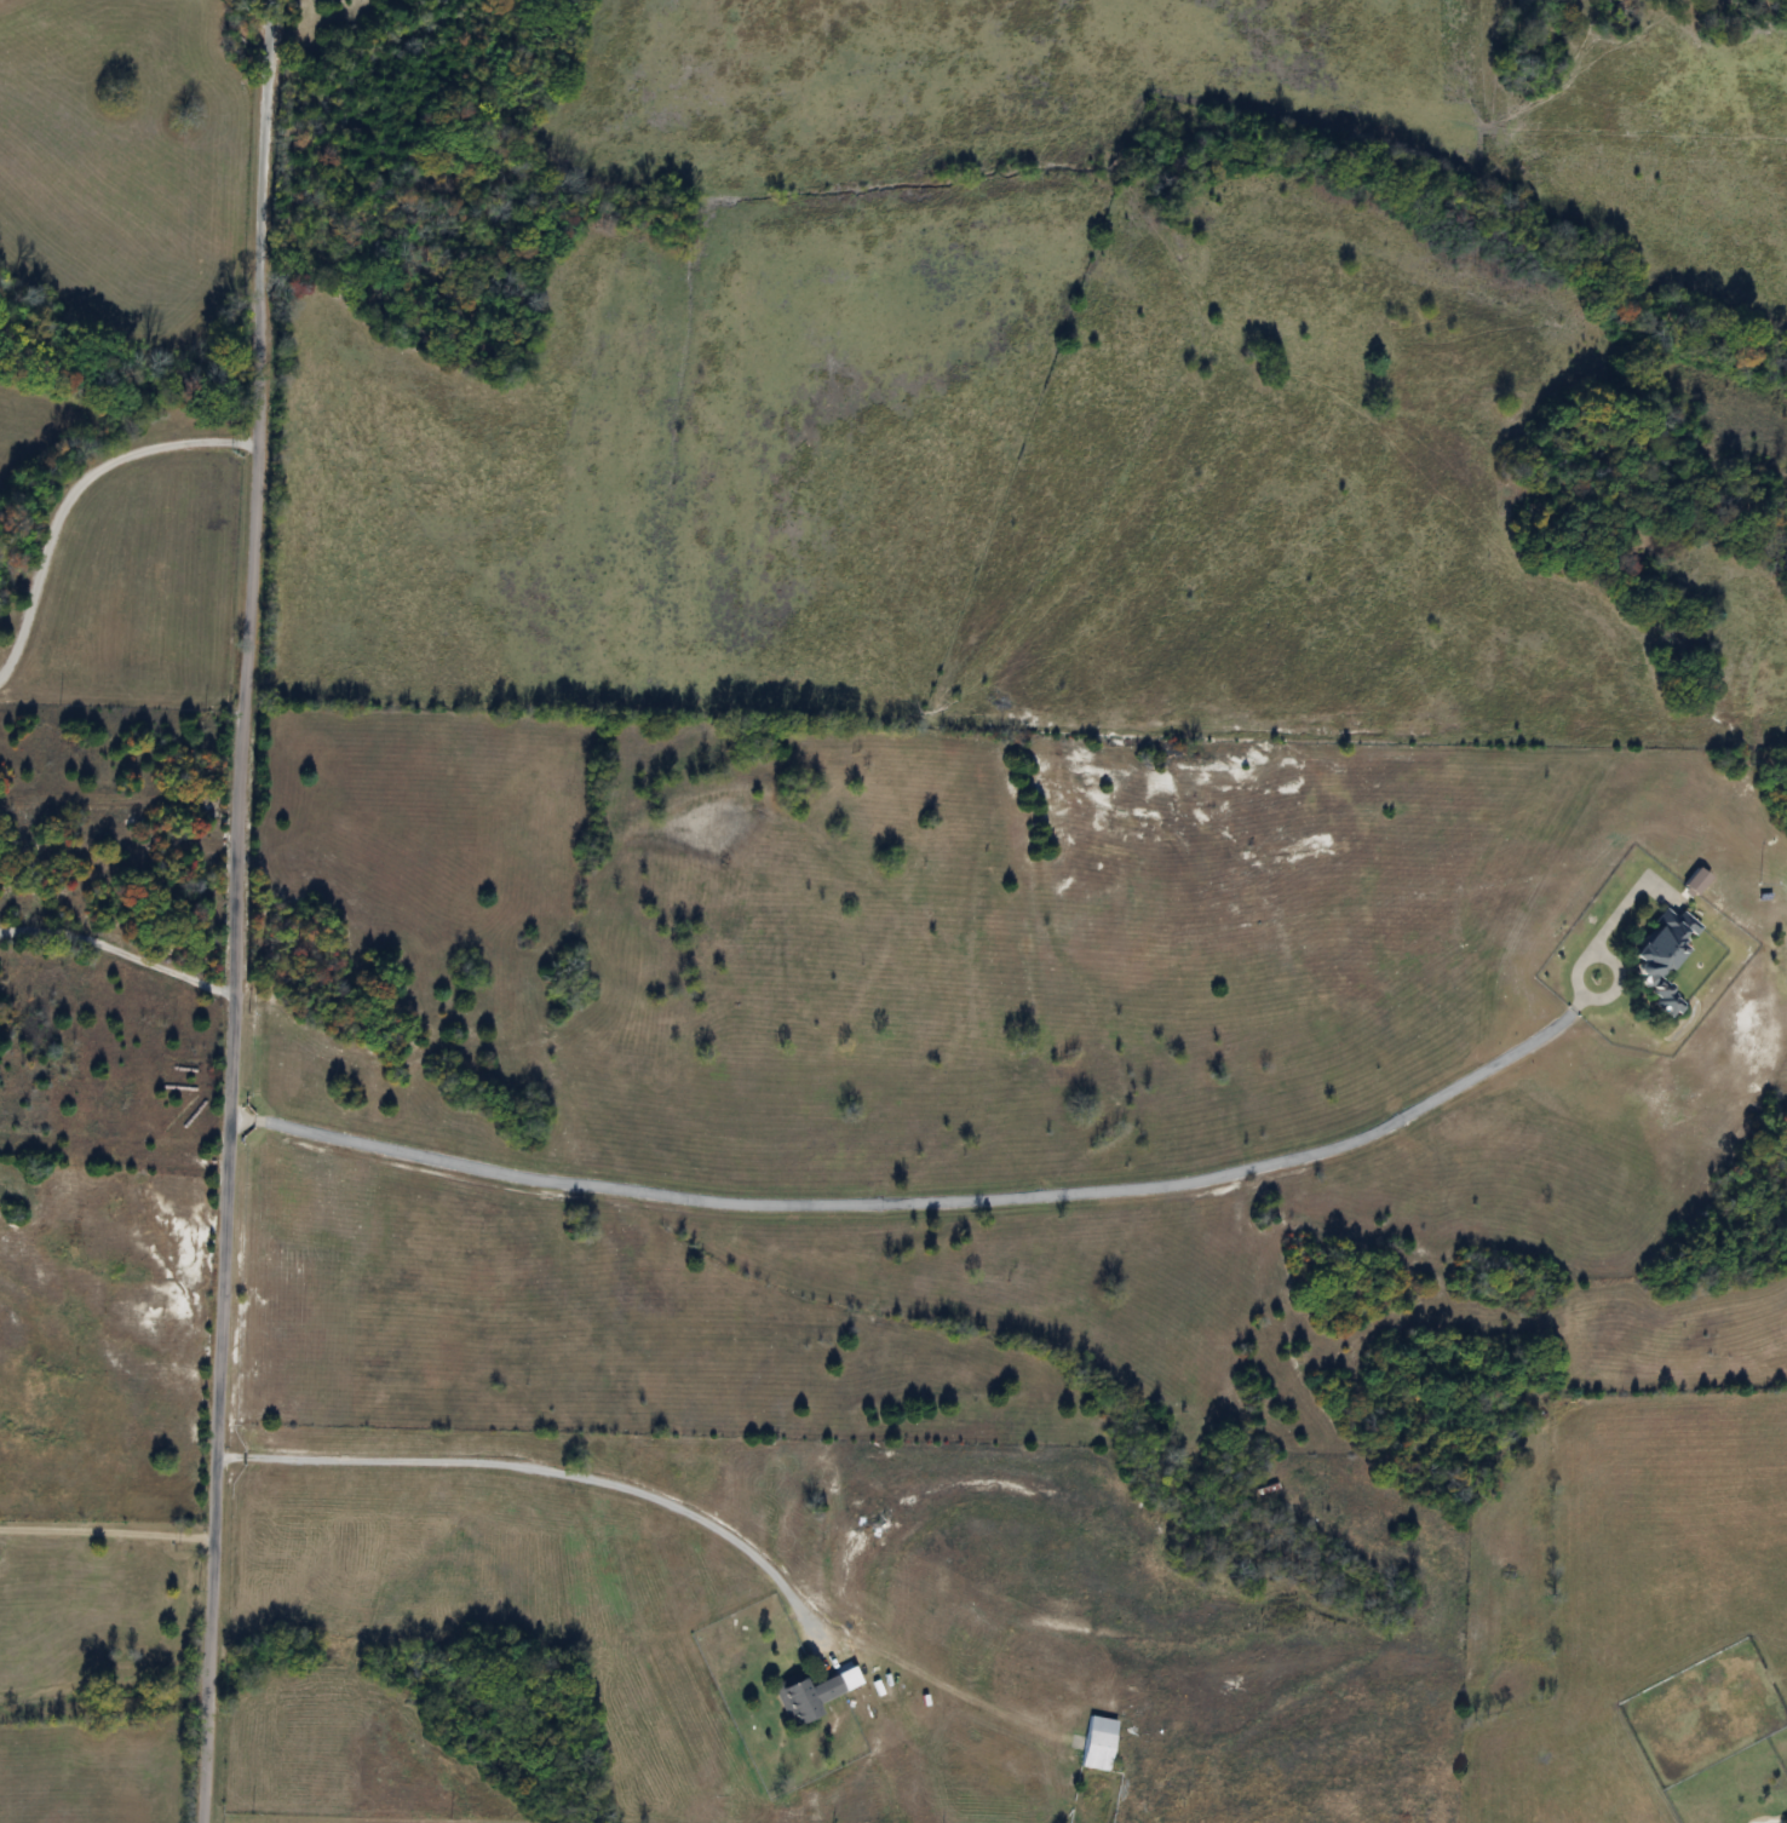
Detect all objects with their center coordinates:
road: (71, 490)
road: (237, 911)
road: (119, 951)
building: (1661, 957)
road: (999, 1198)
road: (534, 1468)
road: (105, 1537)
building: (805, 1696)
building: (1097, 1743)

